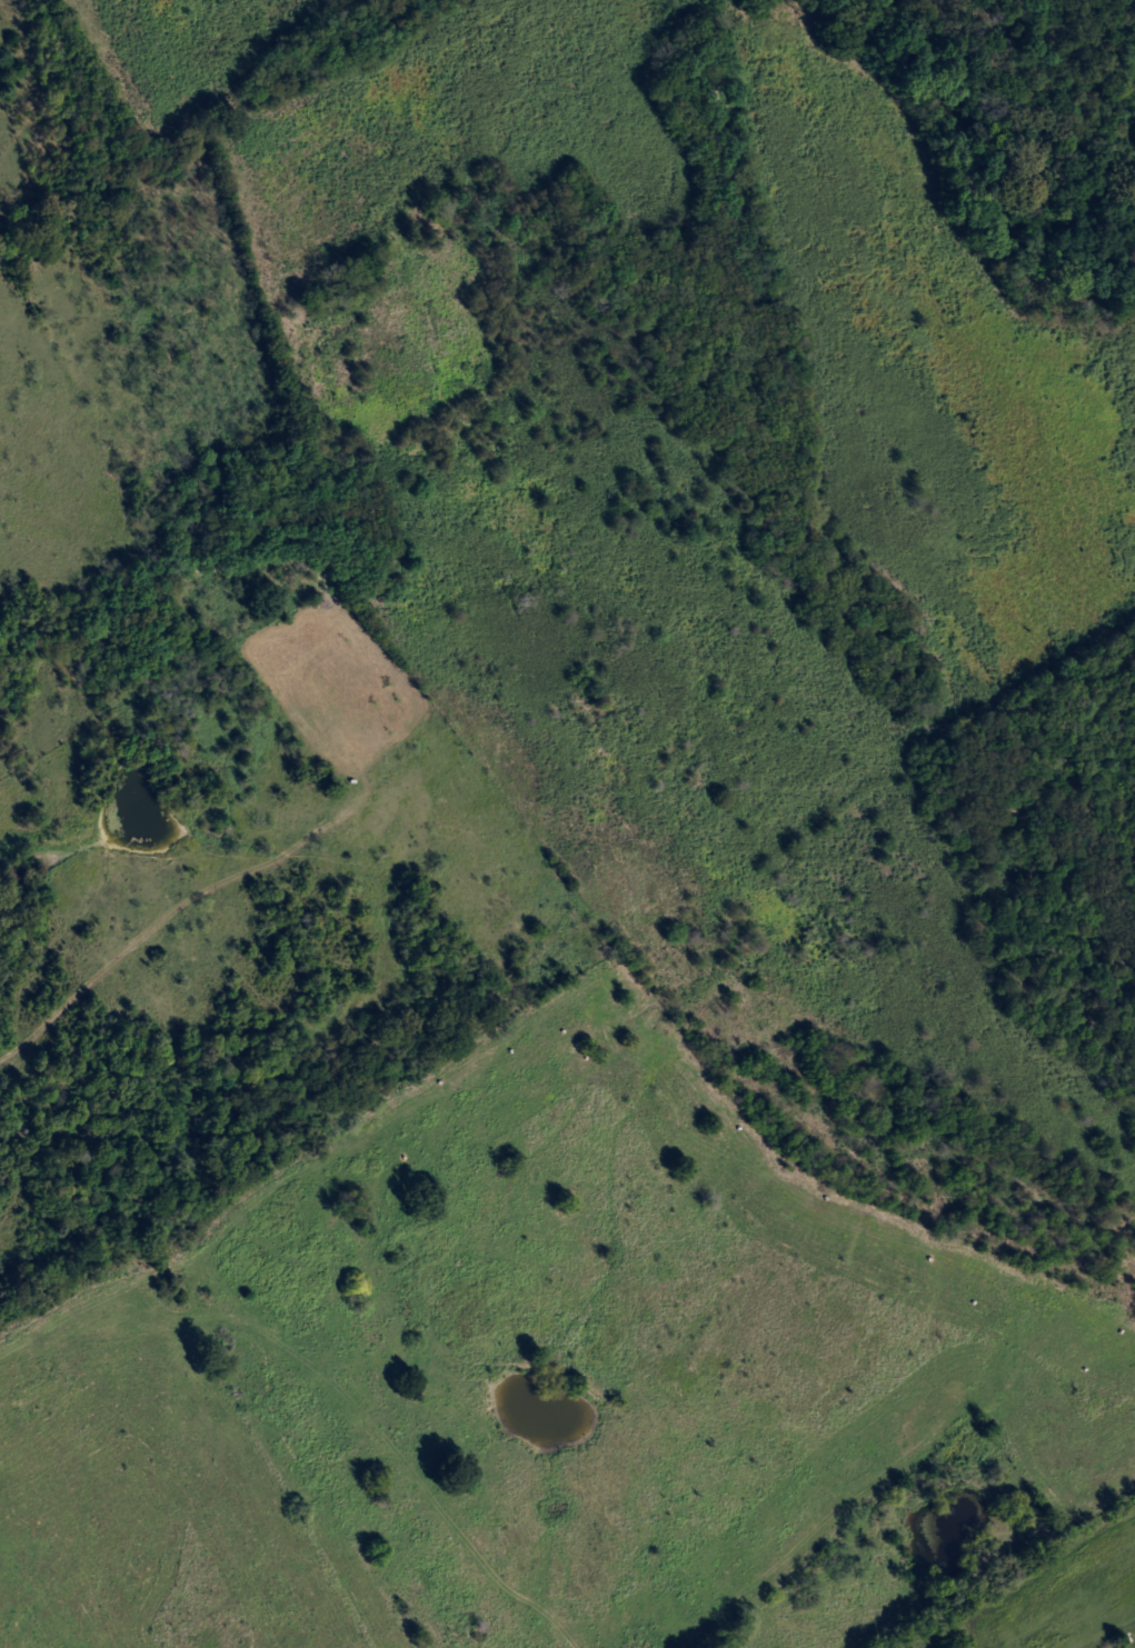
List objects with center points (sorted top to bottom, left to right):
road: (18, 1308)

